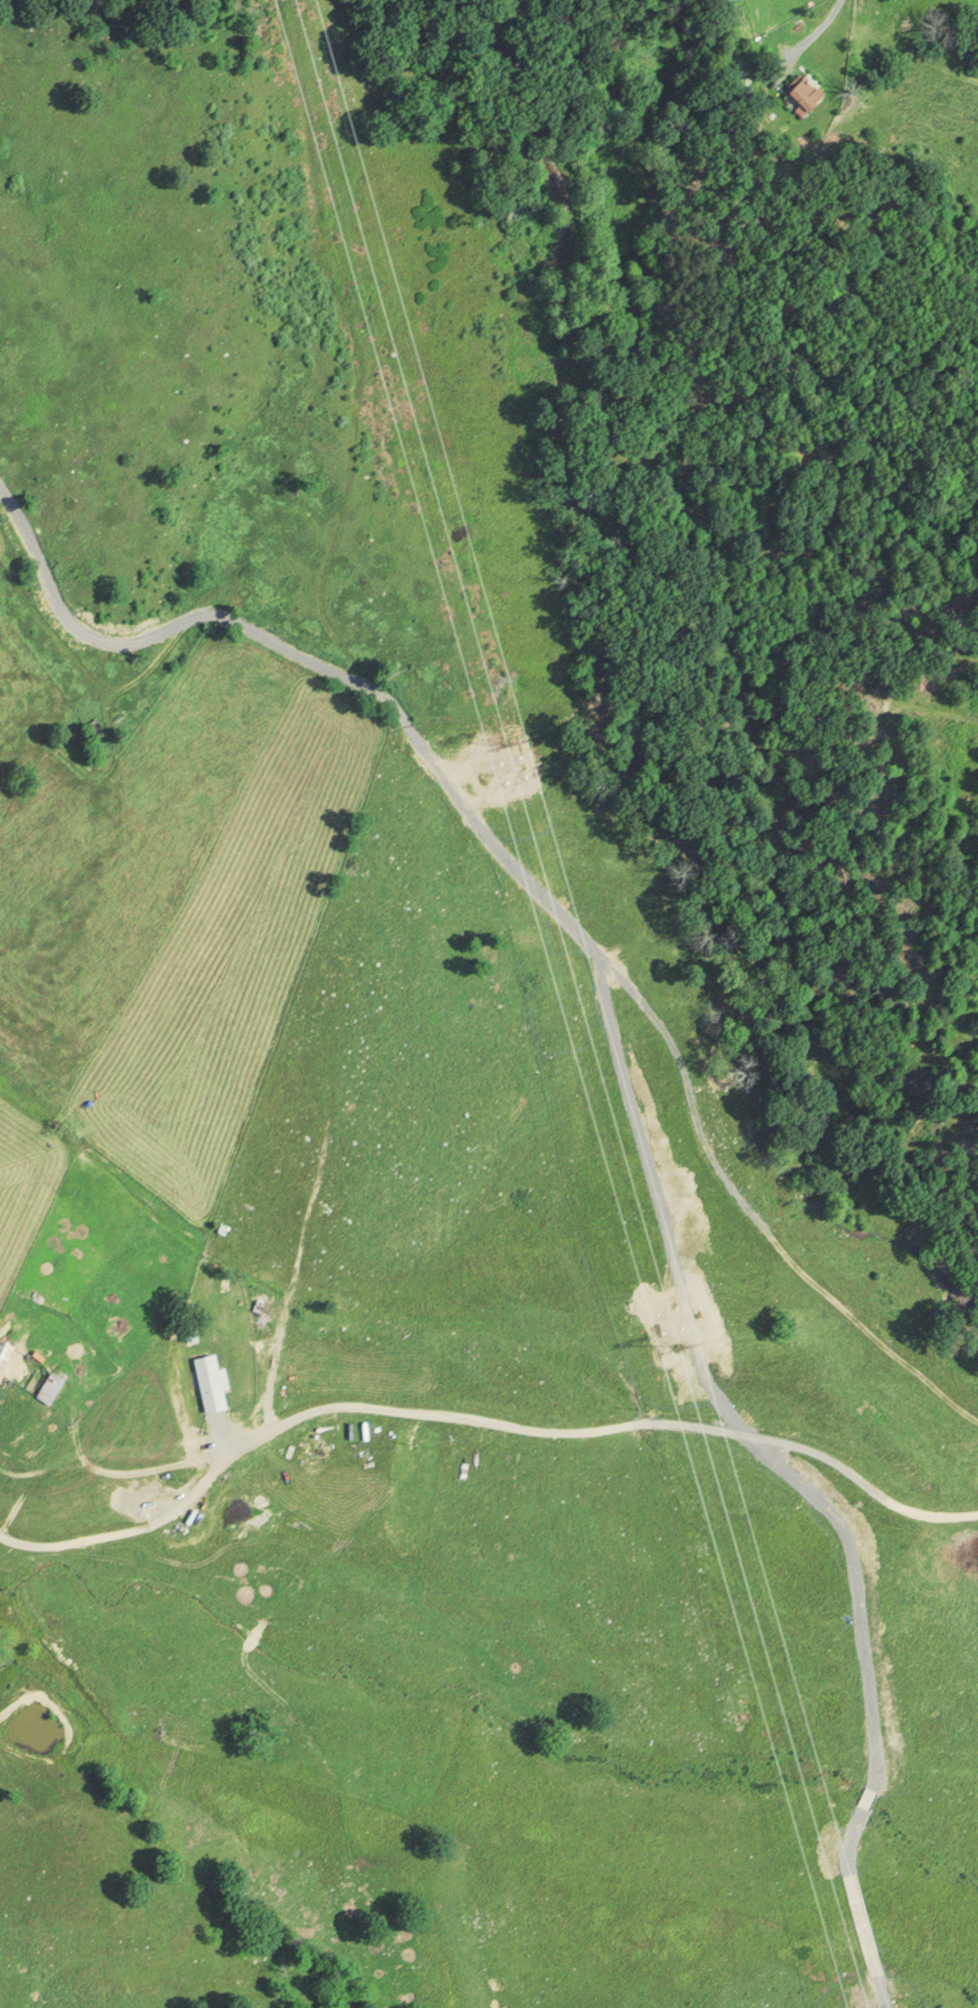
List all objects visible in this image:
road: (812, 35)
power tower: (502, 739)
power tower: (674, 1344)
building: (2, 1349)
building: (207, 1381)
building: (45, 1387)
road: (610, 1427)

